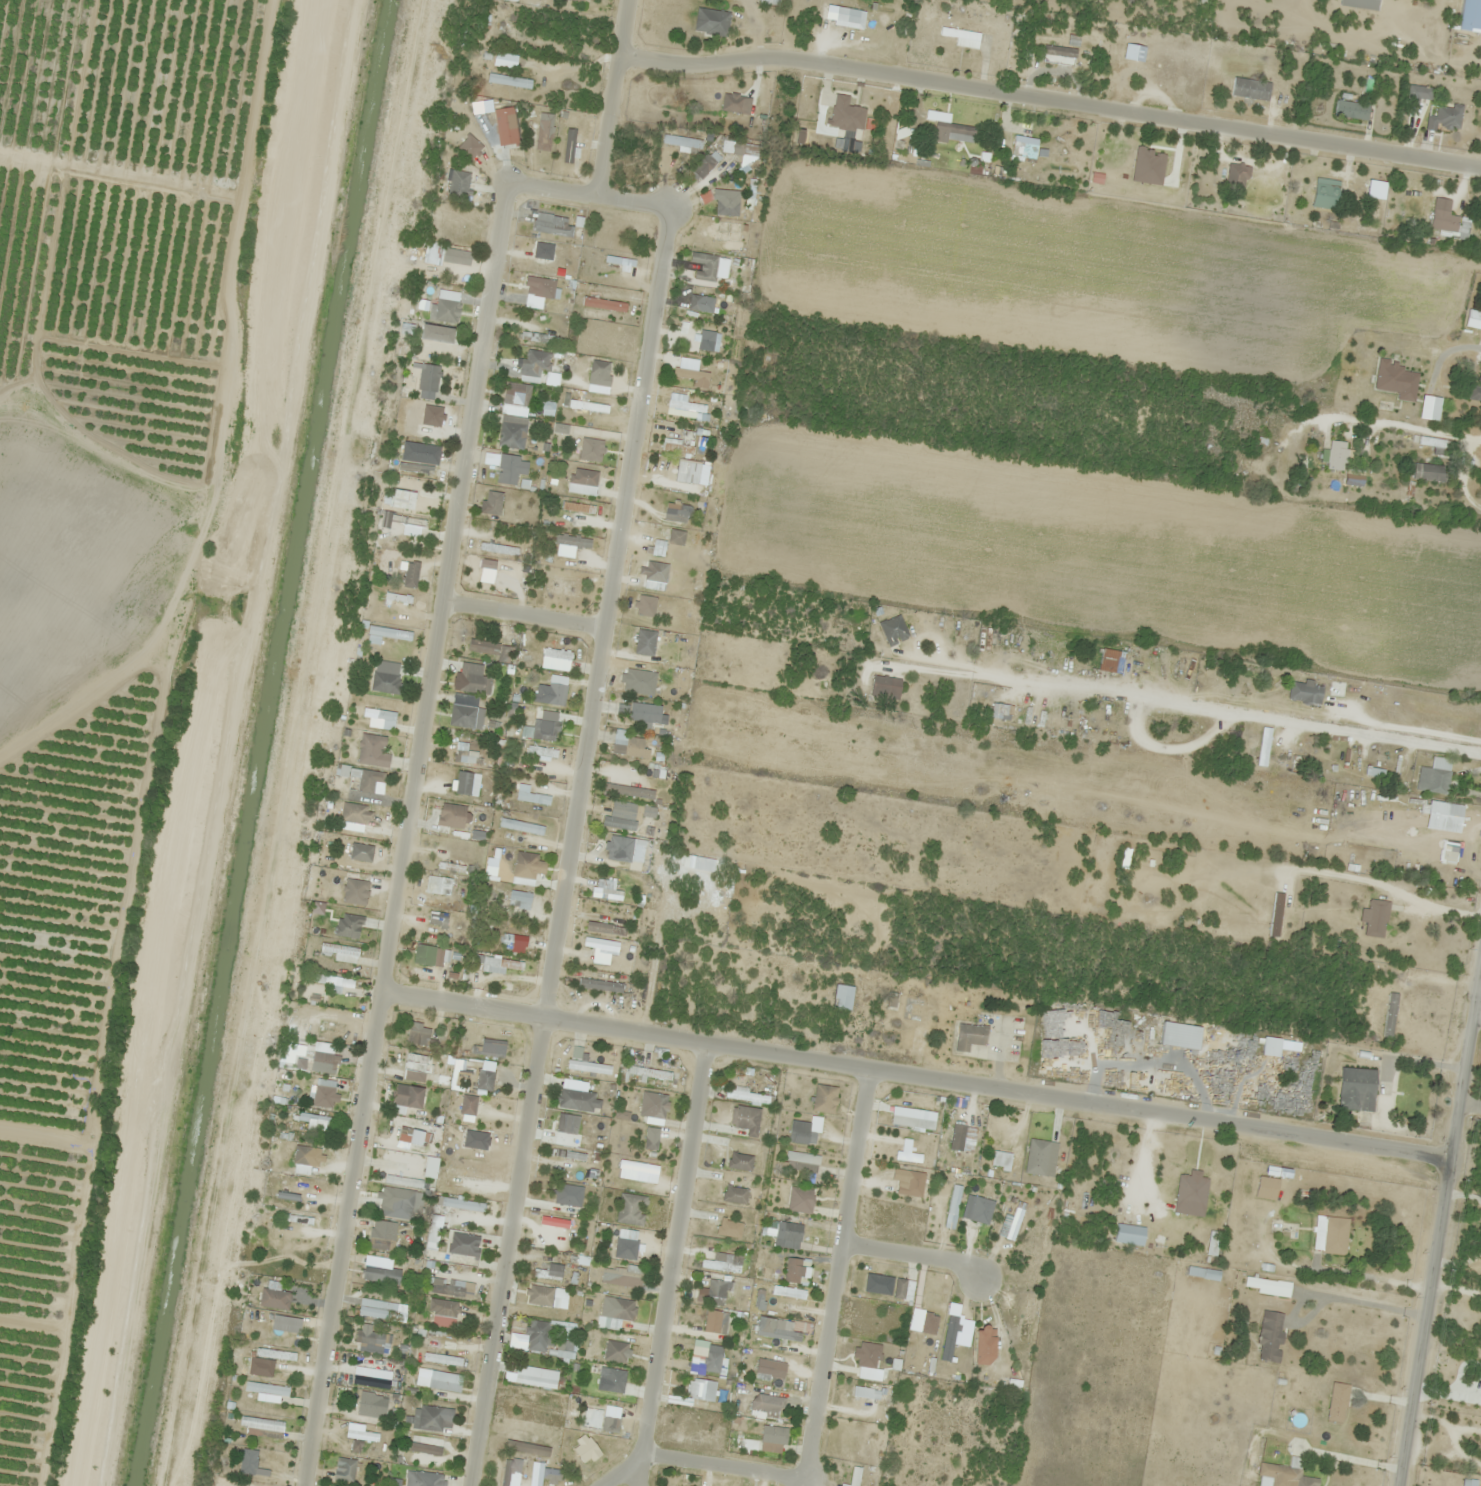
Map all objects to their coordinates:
building: (575, 0)
building: (538, 1)
building: (1472, 4)
building: (853, 16)
building: (712, 22)
building: (960, 35)
building: (1061, 51)
building: (510, 81)
building: (1251, 89)
building: (1414, 92)
road: (612, 97)
road: (1049, 97)
building: (1352, 110)
building: (847, 114)
building: (1445, 117)
building: (950, 125)
building: (545, 131)
building: (513, 133)
building: (478, 141)
building: (570, 146)
building: (1025, 150)
building: (707, 164)
building: (1124, 168)
building: (1238, 176)
road: (589, 193)
building: (1326, 194)
building: (728, 207)
building: (1447, 222)
building: (554, 227)
building: (457, 257)
building: (547, 268)
building: (696, 302)
building: (539, 303)
building: (447, 310)
building: (534, 337)
building: (698, 341)
building: (434, 345)
building: (536, 363)
building: (600, 369)
building: (691, 374)
building: (429, 378)
building: (1398, 380)
building: (1475, 391)
building: (593, 404)
building: (687, 406)
building: (513, 417)
building: (679, 447)
building: (1337, 455)
building: (508, 467)
building: (1429, 472)
building: (492, 502)
building: (410, 503)
building: (682, 509)
building: (403, 522)
building: (659, 548)
building: (499, 549)
building: (656, 571)
building: (411, 574)
building: (557, 586)
road: (523, 614)
building: (894, 630)
building: (645, 642)
building: (490, 650)
building: (550, 650)
building: (1058, 658)
building: (1112, 661)
building: (386, 683)
building: (475, 683)
building: (886, 687)
building: (1235, 688)
building: (1307, 692)
road: (1186, 705)
building: (464, 711)
building: (639, 711)
building: (380, 714)
building: (546, 730)
building: (626, 749)
building: (371, 753)
building: (468, 756)
building: (346, 771)
building: (370, 780)
building: (1433, 780)
building: (465, 782)
building: (631, 791)
building: (454, 816)
building: (620, 823)
building: (357, 824)
building: (522, 827)
road: (405, 834)
road: (570, 845)
building: (362, 852)
building: (526, 865)
building: (441, 886)
building: (361, 889)
building: (607, 894)
building: (522, 899)
building: (1276, 914)
building: (439, 918)
building: (1377, 918)
building: (350, 925)
building: (515, 940)
building: (601, 944)
building: (343, 952)
building: (425, 954)
building: (343, 985)
building: (844, 996)
building: (924, 1010)
road: (1478, 1010)
building: (1390, 1014)
building: (419, 1034)
building: (970, 1036)
building: (290, 1052)
building: (416, 1060)
building: (586, 1063)
building: (325, 1069)
road: (917, 1074)
building: (485, 1079)
building: (1358, 1089)
building: (324, 1093)
building: (747, 1096)
building: (569, 1098)
road: (1471, 1100)
building: (406, 1105)
building: (659, 1105)
building: (913, 1116)
building: (747, 1118)
building: (477, 1120)
building: (317, 1121)
building: (568, 1124)
building: (1006, 1126)
building: (800, 1132)
building: (412, 1135)
building: (652, 1143)
building: (474, 1154)
building: (304, 1155)
building: (569, 1155)
building: (741, 1161)
building: (802, 1161)
building: (639, 1166)
building: (405, 1174)
building: (892, 1177)
building: (1268, 1187)
building: (305, 1190)
building: (735, 1194)
building: (939, 1197)
building: (801, 1199)
building: (399, 1203)
building: (630, 1207)
building: (564, 1209)
building: (985, 1218)
building: (298, 1219)
building: (1015, 1224)
building: (728, 1229)
building: (793, 1231)
road: (1441, 1231)
building: (1146, 1232)
building: (1331, 1234)
building: (1042, 1238)
building: (379, 1243)
building: (464, 1244)
road: (914, 1252)
road: (671, 1263)
building: (721, 1264)
building: (380, 1271)
building: (551, 1272)
building: (1204, 1273)
building: (623, 1276)
building: (1268, 1285)
building: (448, 1287)
building: (900, 1288)
building: (286, 1290)
building: (781, 1293)
building: (716, 1295)
building: (547, 1296)
building: (444, 1307)
building: (376, 1309)
building: (623, 1309)
building: (1027, 1318)
building: (541, 1332)
building: (779, 1332)
building: (1271, 1336)
building: (371, 1341)
building: (991, 1342)
building: (566, 1345)
building: (441, 1350)
building: (616, 1351)
building: (276, 1355)
building: (713, 1361)
building: (764, 1369)
building: (604, 1374)
road: (823, 1375)
building: (437, 1378)
building: (534, 1378)
building: (704, 1389)
building: (270, 1392)
building: (863, 1392)
building: (372, 1401)
building: (1338, 1402)
building: (764, 1410)
building: (433, 1418)
building: (265, 1426)
building: (697, 1428)
building: (774, 1434)
building: (356, 1447)
building: (526, 1448)
building: (426, 1449)
building: (260, 1458)
building: (345, 1469)
building: (507, 1473)
building: (543, 1473)
building: (1298, 1474)
building: (856, 1476)
building: (428, 1479)
building: (1470, 1482)
building: (238, 1484)

